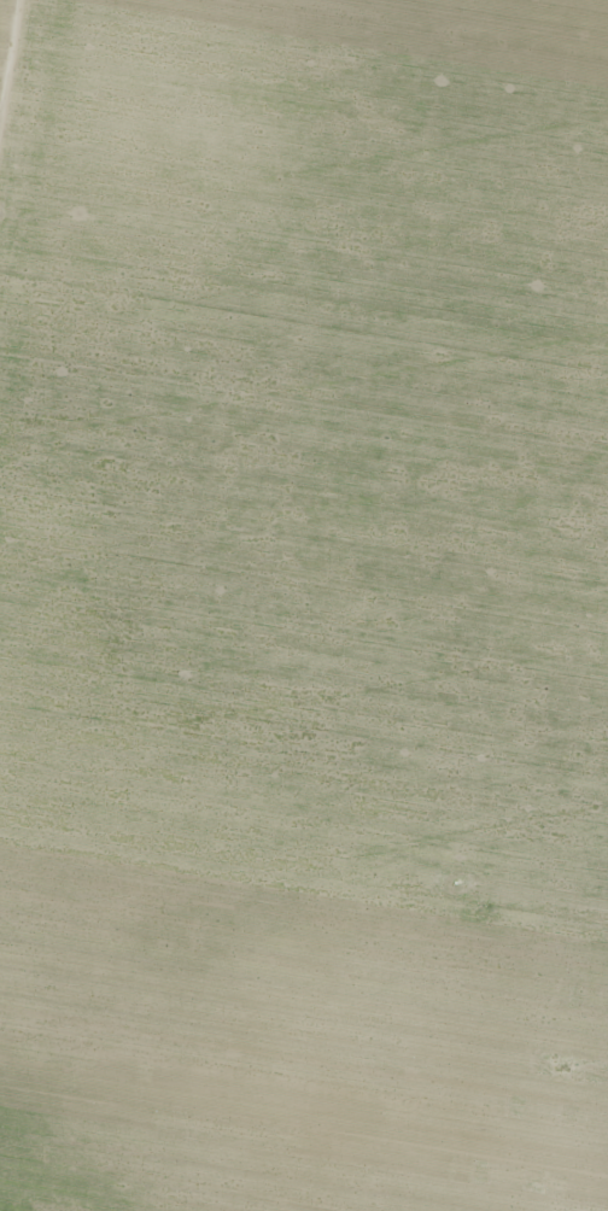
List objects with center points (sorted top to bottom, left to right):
road: (8, 55)
landfill: (538, 772)

